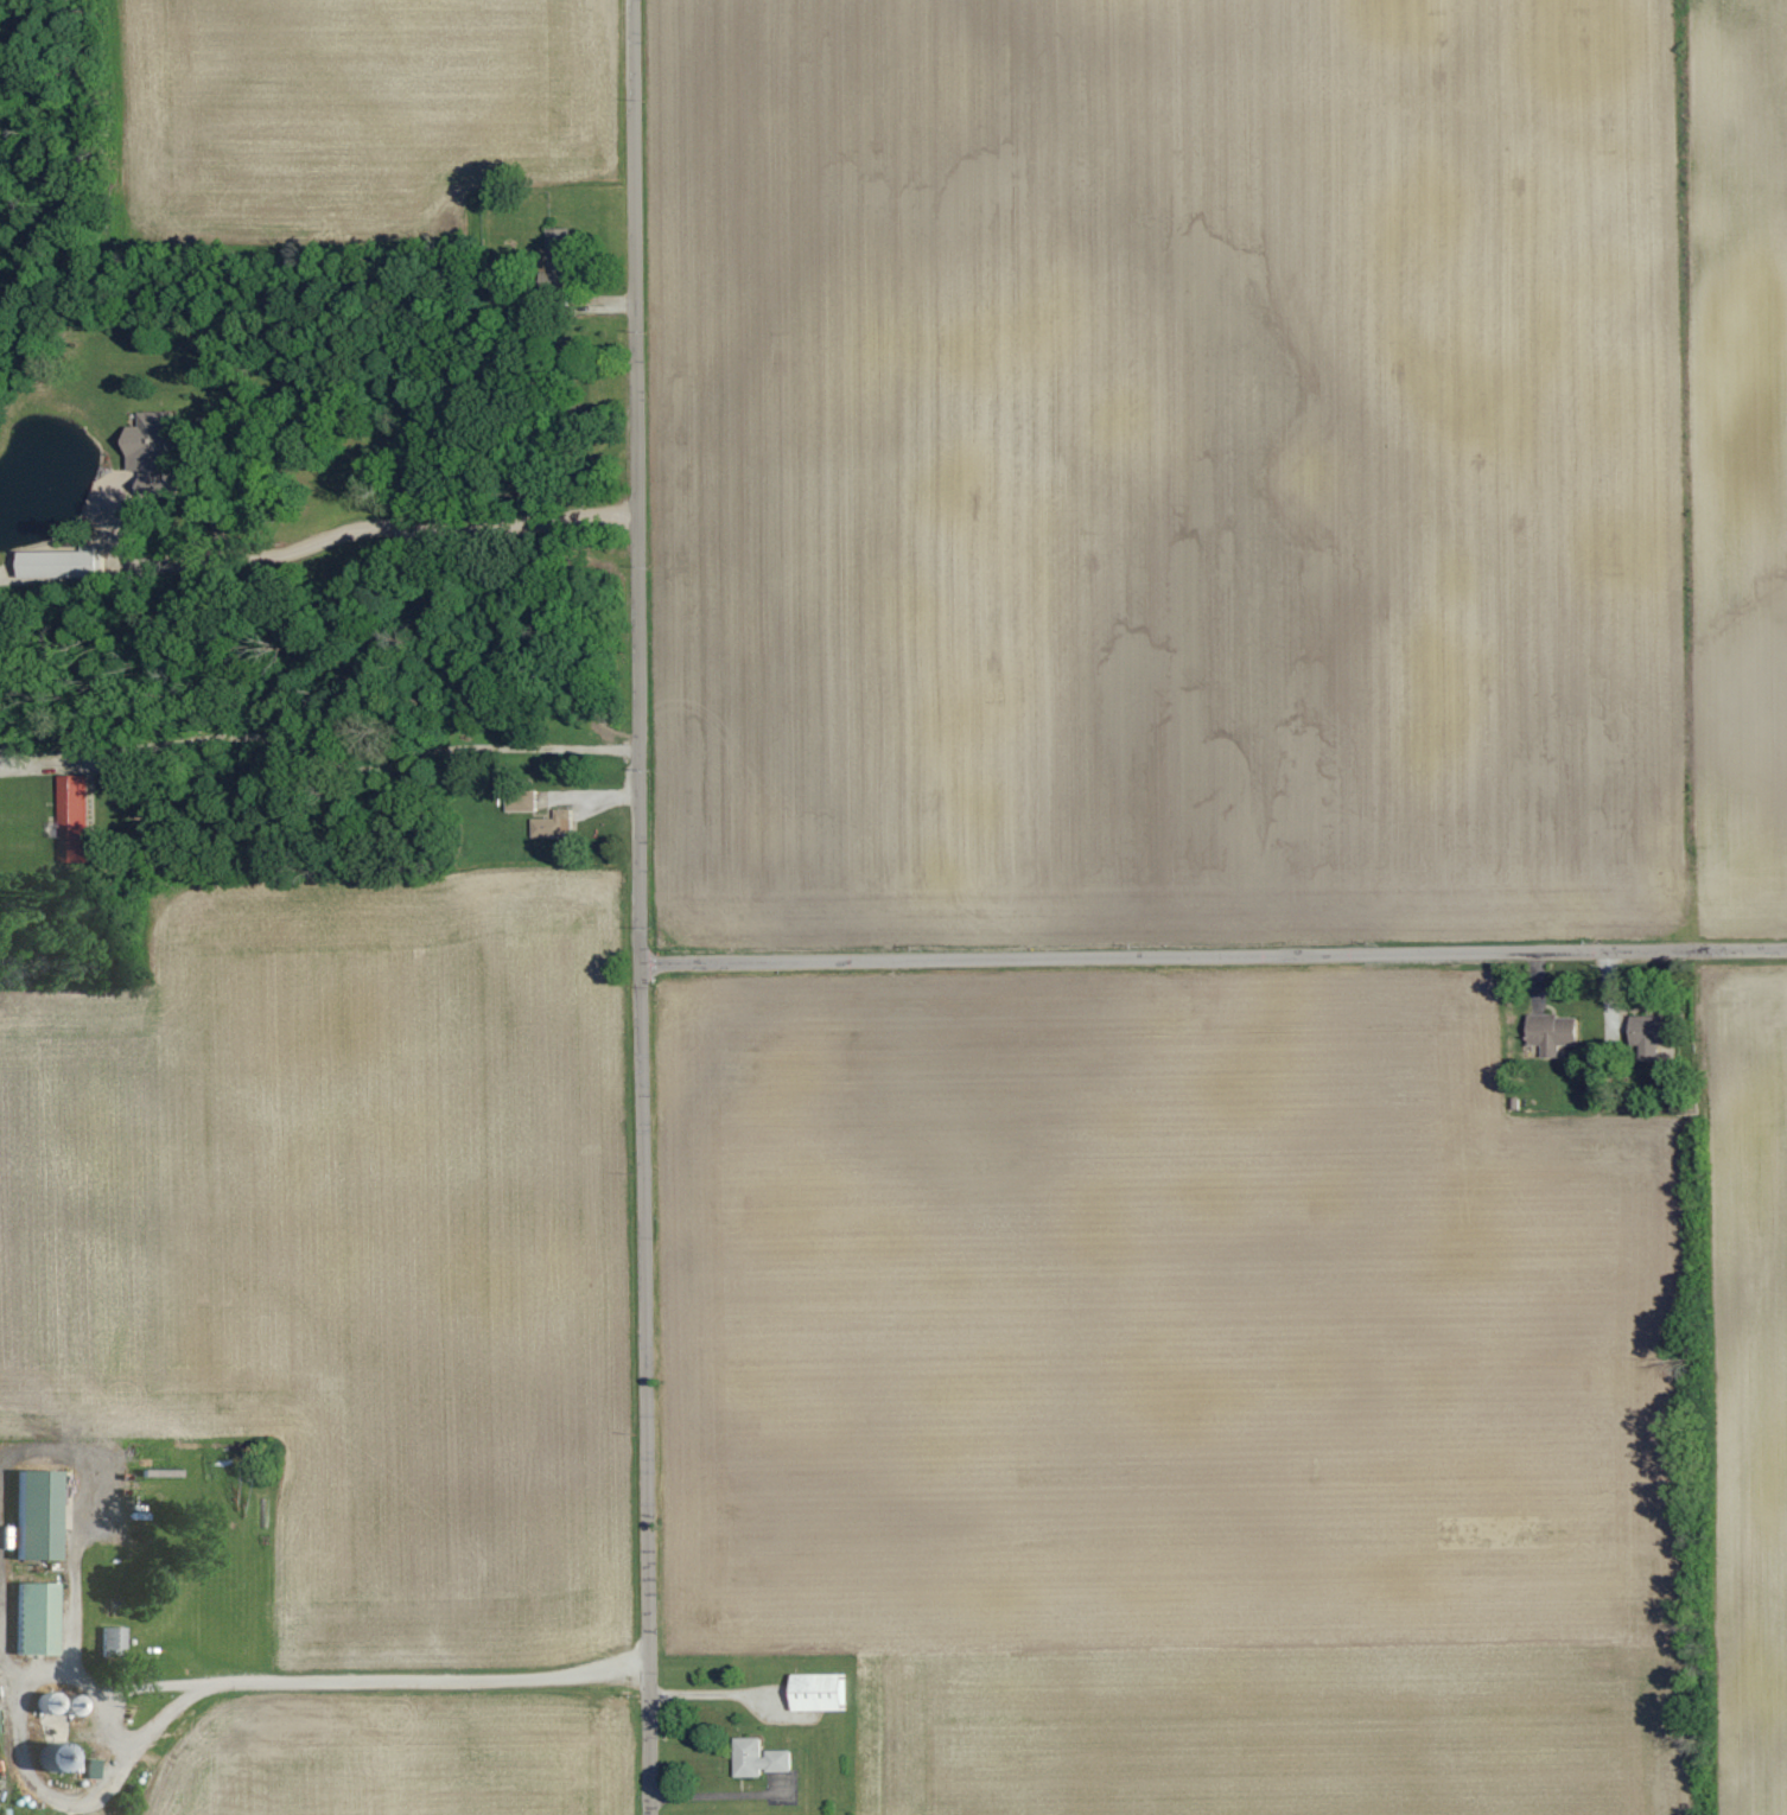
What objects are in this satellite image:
building: (555, 237)
building: (146, 444)
road: (355, 528)
building: (57, 565)
road: (318, 744)
building: (519, 802)
building: (70, 819)
building: (551, 826)
road: (638, 907)
road: (1213, 955)
building: (1550, 1033)
building: (1645, 1034)
building: (30, 1512)
road: (81, 1517)
road: (1, 1610)
building: (30, 1617)
road: (300, 1680)
building: (815, 1690)
road: (713, 1693)
road: (18, 1744)
building: (757, 1758)
road: (717, 1795)

